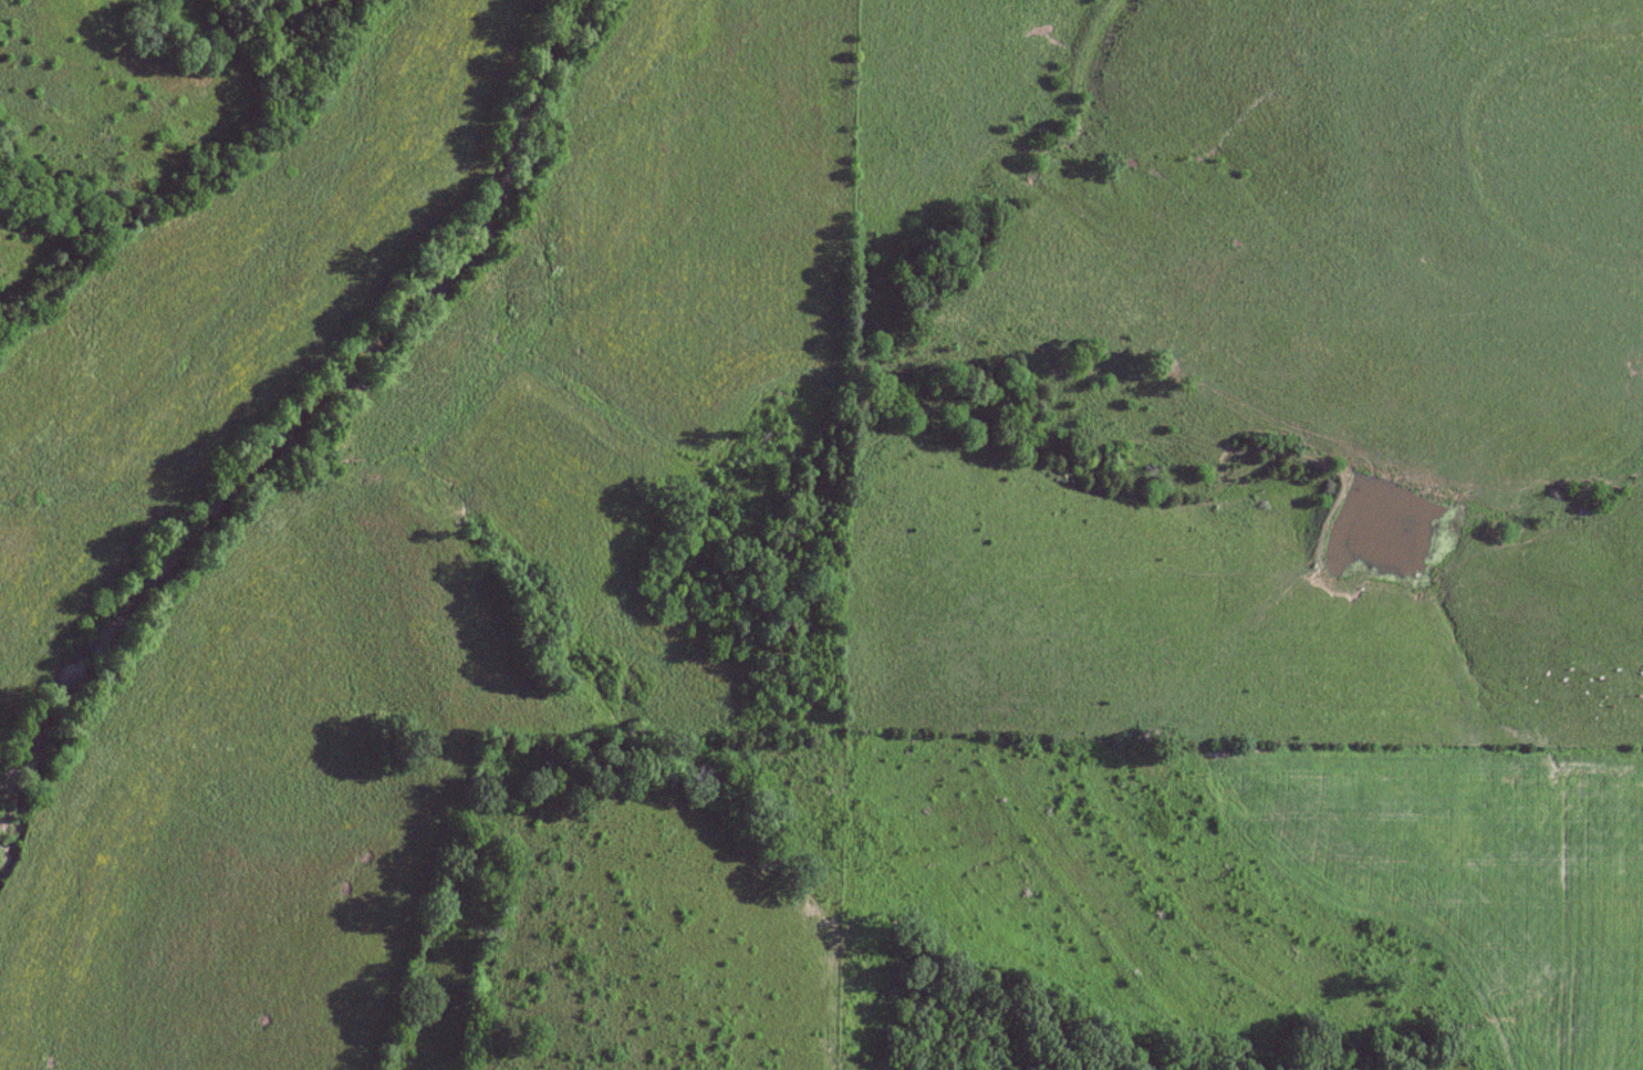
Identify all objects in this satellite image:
building: (786, 622)

